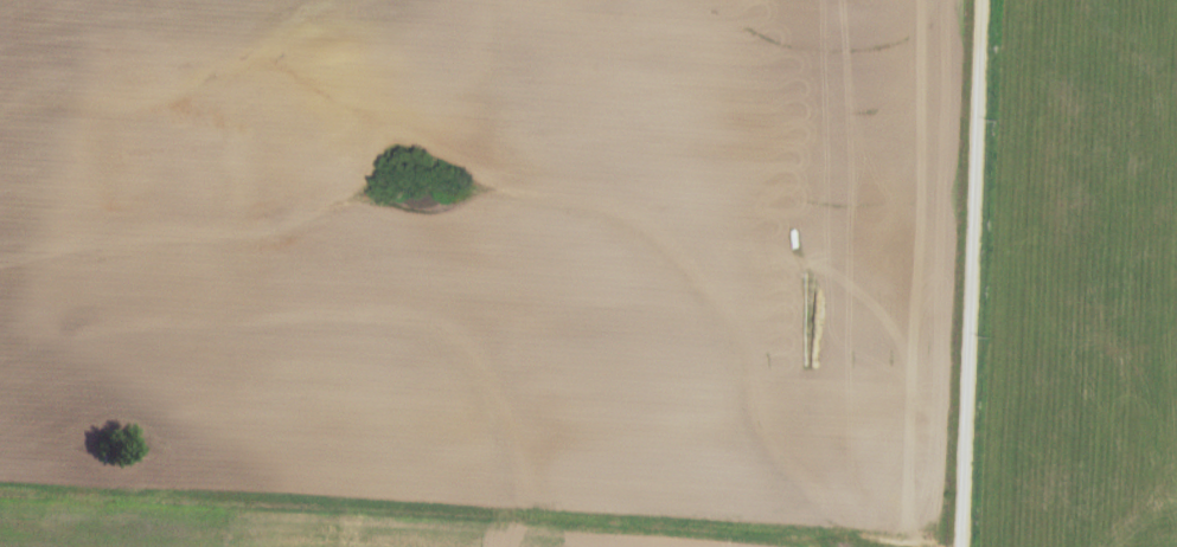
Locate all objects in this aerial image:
road: (972, 273)
road: (471, 510)

